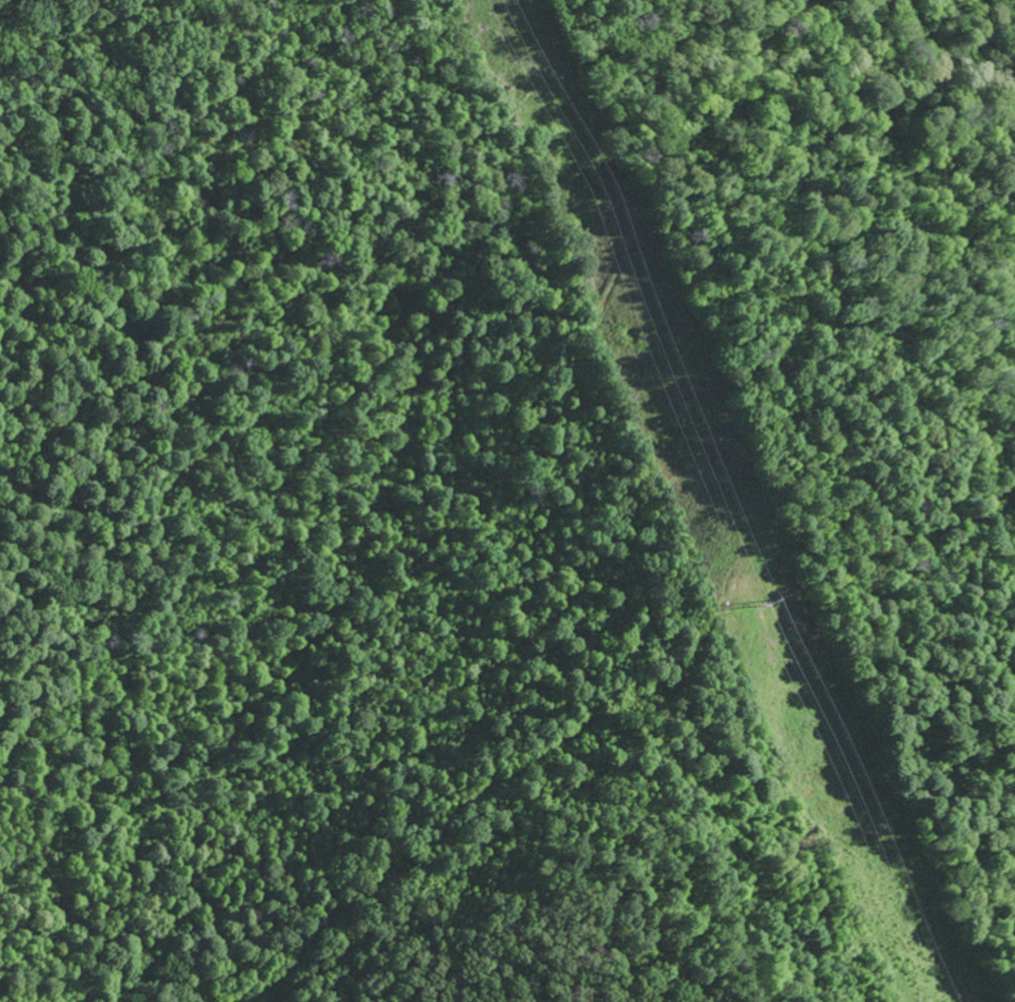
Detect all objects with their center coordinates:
power tower: (771, 603)

